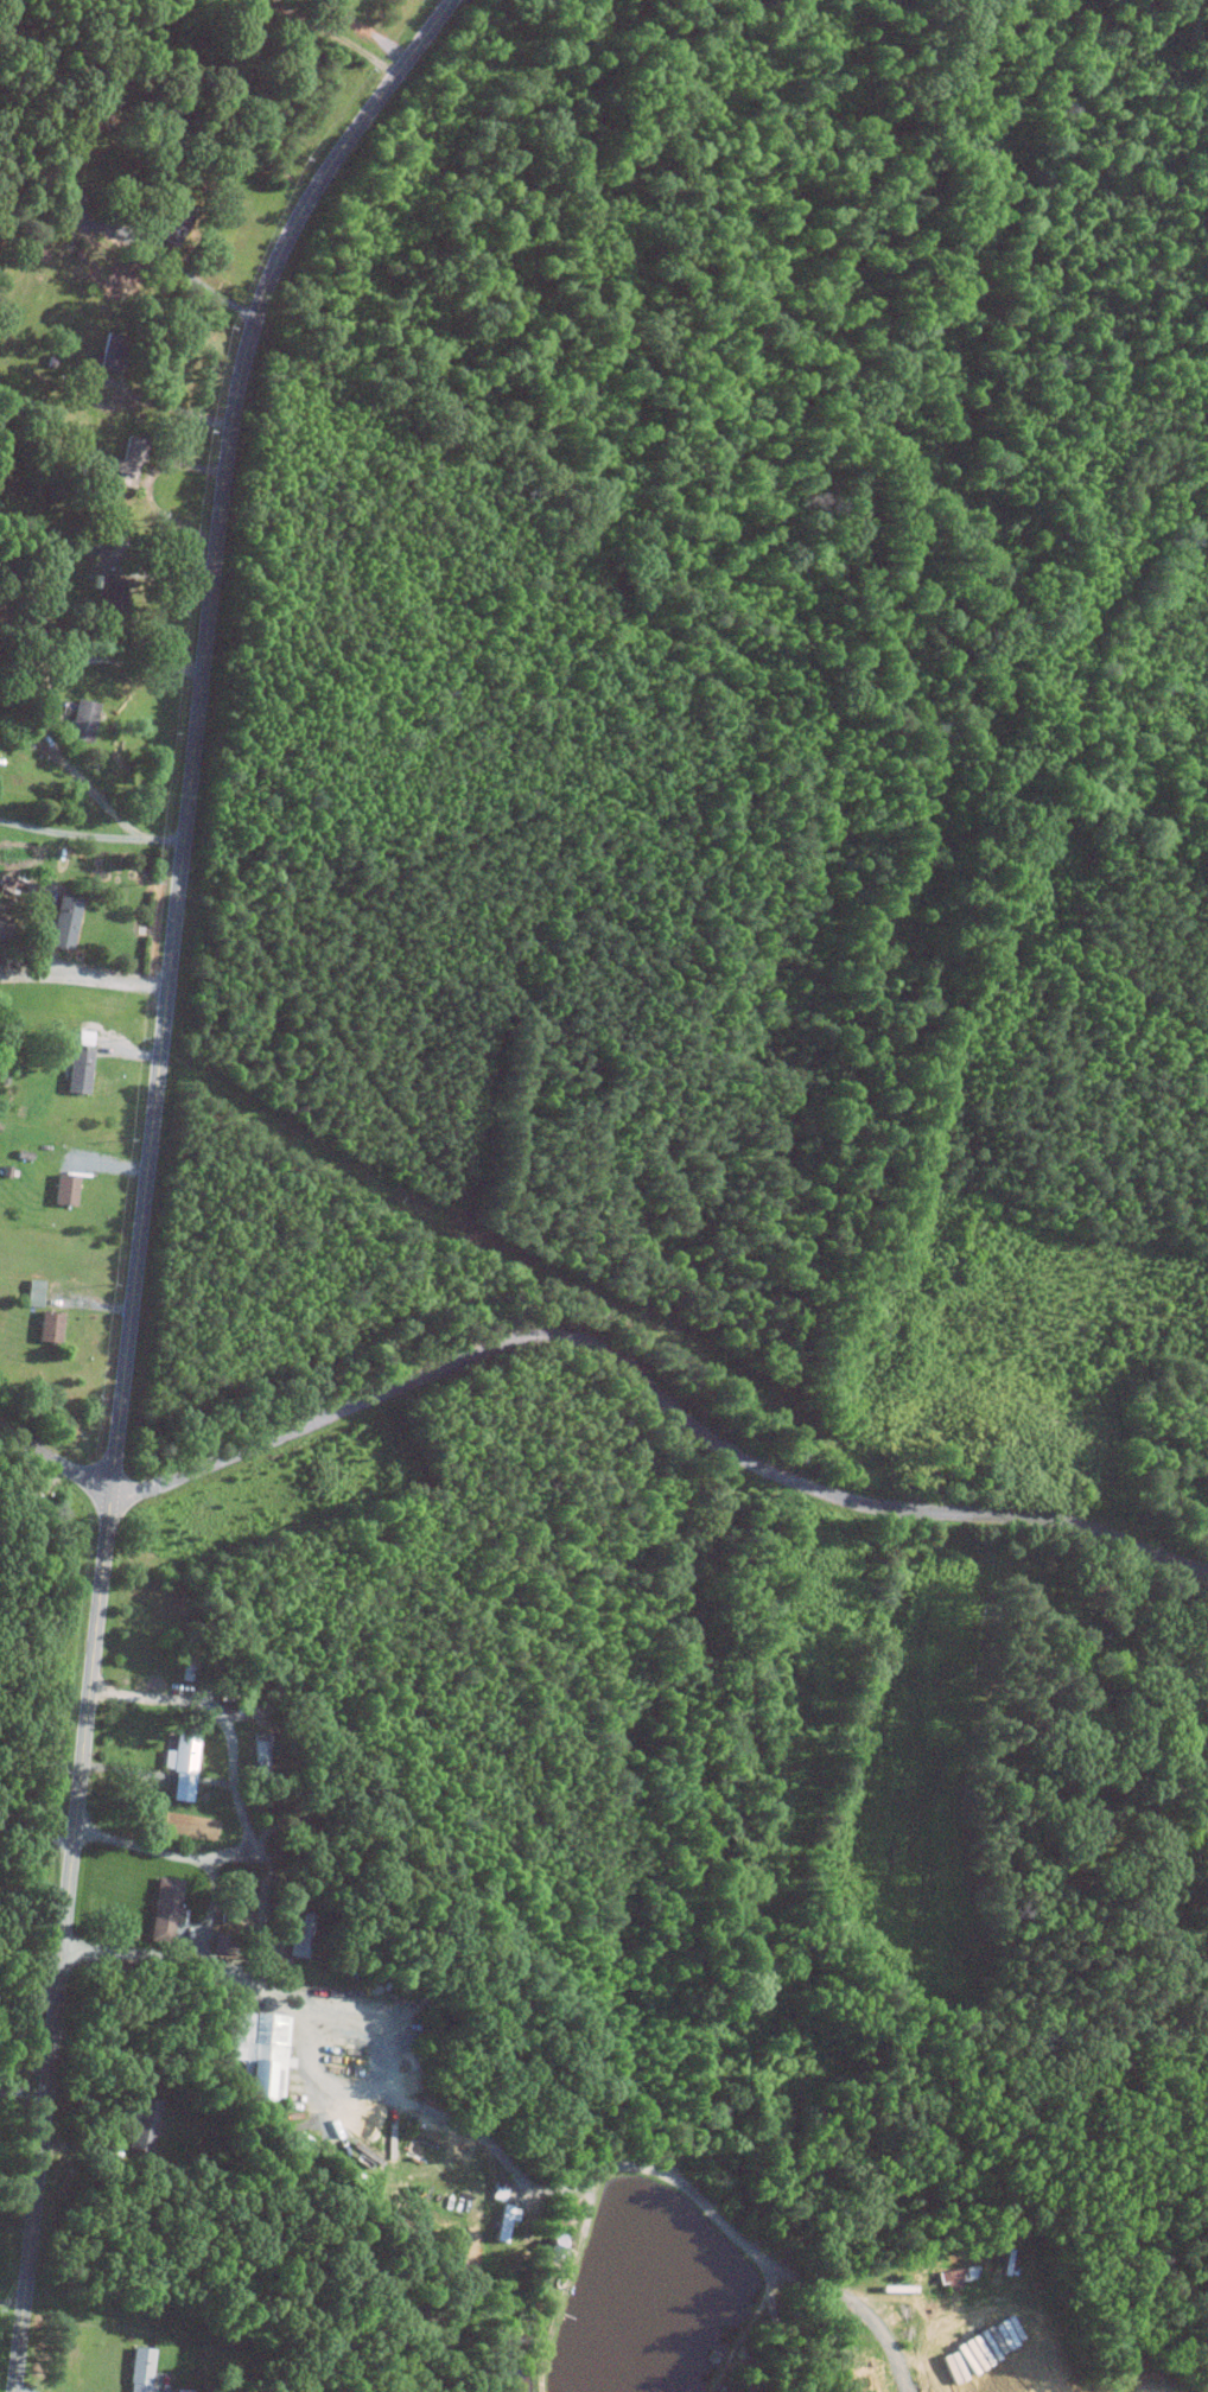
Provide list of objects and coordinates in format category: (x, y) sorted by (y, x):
road: (339, 36)
building: (174, 222)
road: (197, 282)
building: (110, 352)
road: (174, 408)
building: (129, 462)
road: (129, 568)
building: (112, 594)
road: (44, 644)
road: (101, 660)
building: (82, 721)
road: (65, 761)
road: (90, 834)
building: (64, 923)
road: (83, 978)
building: (77, 1068)
road: (146, 1166)
building: (64, 1188)
building: (46, 1325)
road: (654, 1397)
road: (53, 1459)
building: (179, 1764)
road: (241, 1805)
road: (14, 1821)
building: (1088, 1822)
road: (14, 1832)
road: (51, 1837)
building: (161, 1908)
road: (211, 1911)
road: (261, 1917)
road: (27, 1996)
building: (256, 2051)
road: (24, 2092)
building: (140, 2124)
road: (503, 2156)
road: (19, 2165)
building: (503, 2221)
building: (554, 2238)
building: (949, 2277)
road: (11, 2302)
building: (138, 2369)
road: (164, 2391)

